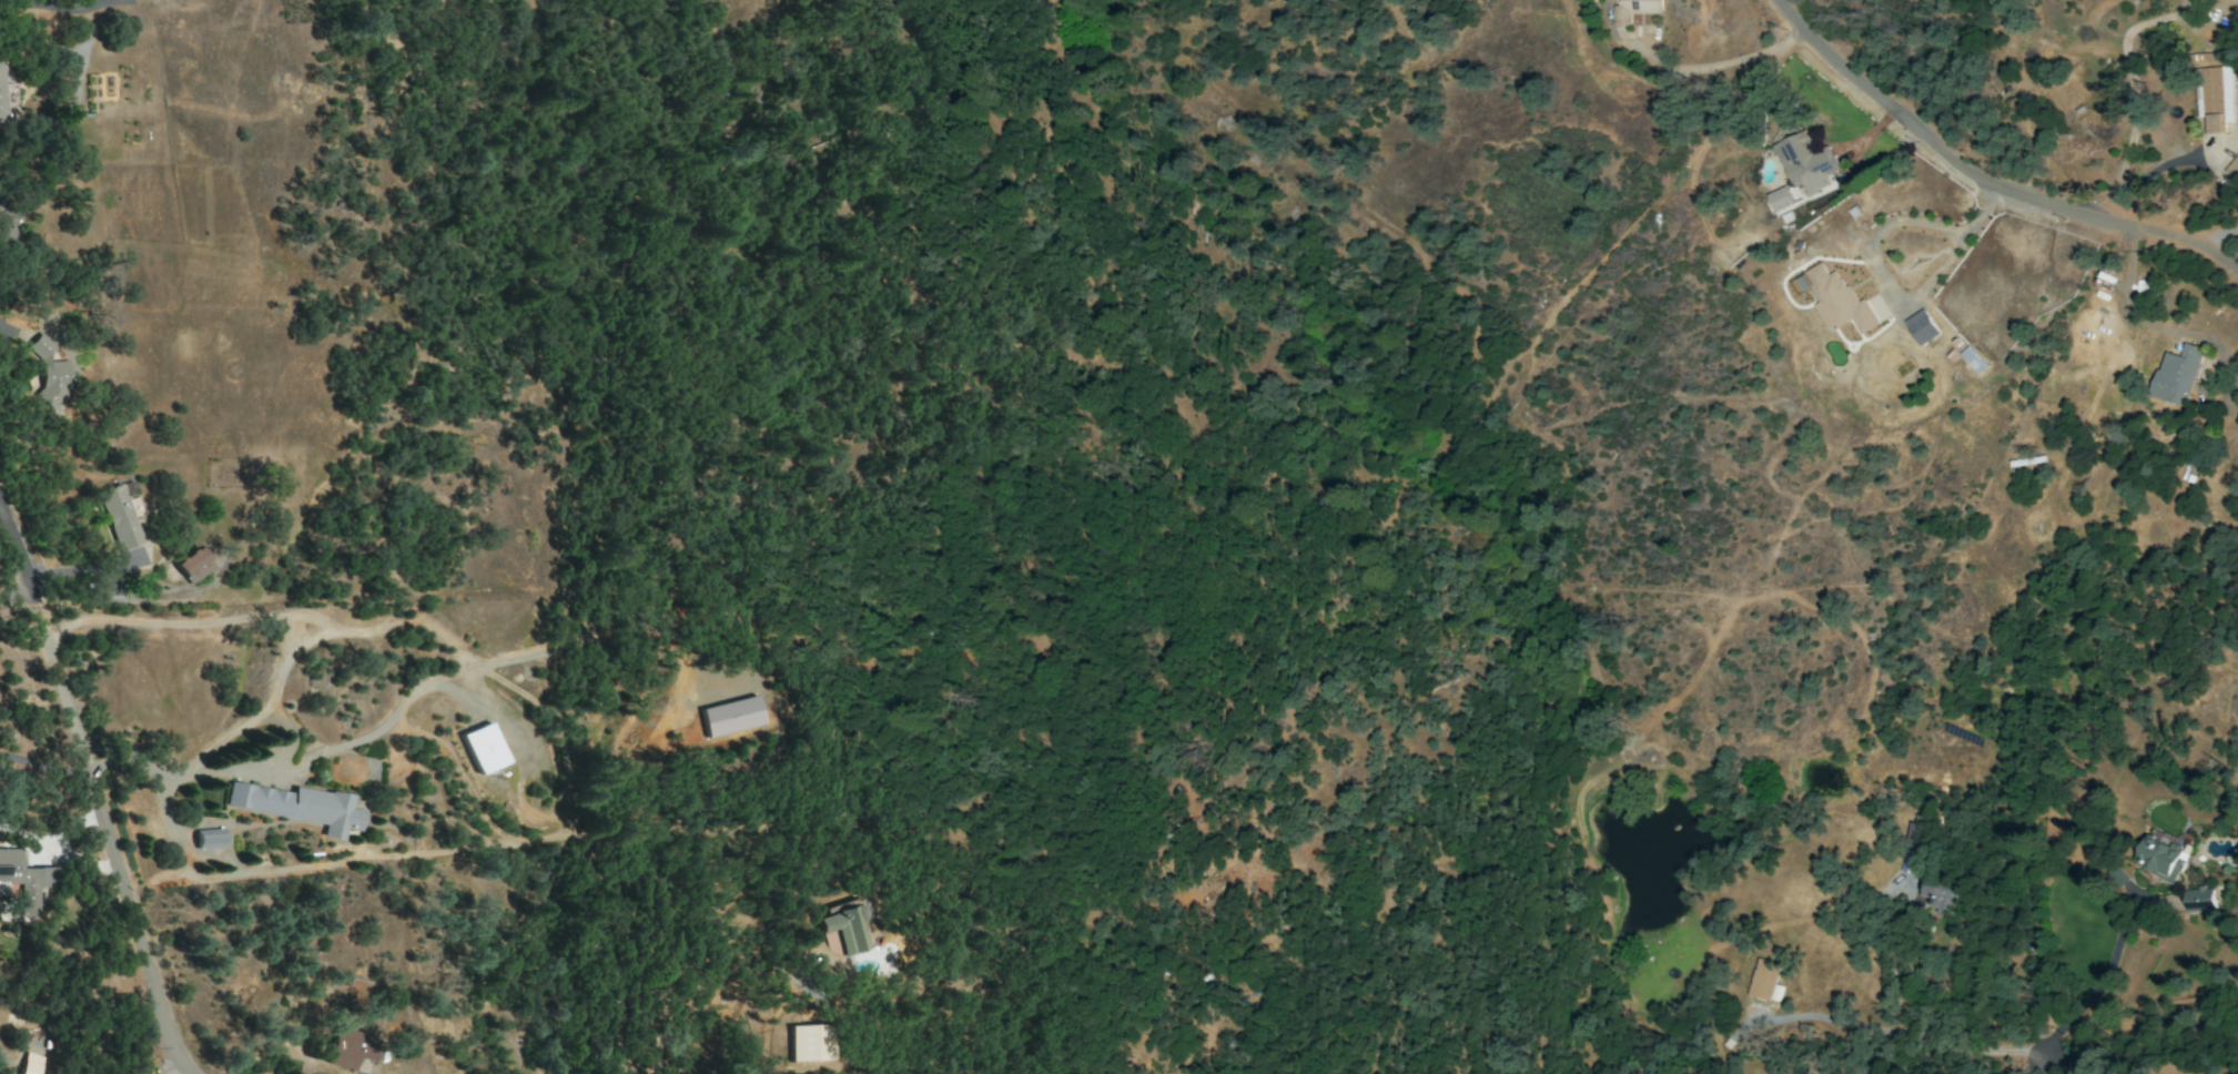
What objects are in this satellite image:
building: (1632, 10)
building: (1, 91)
building: (2214, 99)
road: (2136, 112)
building: (1806, 163)
building: (2232, 168)
road: (1979, 182)
building: (1780, 199)
building: (7, 226)
road: (2218, 233)
road: (1893, 292)
building: (1840, 301)
building: (1921, 327)
building: (1973, 359)
building: (49, 374)
building: (2177, 375)
building: (119, 517)
road: (16, 546)
building: (192, 566)
road: (306, 615)
road: (162, 622)
road: (312, 641)
building: (730, 717)
road: (288, 731)
building: (484, 748)
road: (294, 763)
road: (43, 766)
building: (297, 807)
building: (1920, 832)
road: (105, 834)
building: (207, 839)
building: (2161, 855)
building: (23, 881)
building: (1944, 894)
building: (2197, 900)
building: (844, 929)
road: (1882, 950)
building: (1762, 980)
road: (2094, 986)
road: (723, 1012)
road: (1839, 1020)
building: (810, 1043)
building: (350, 1048)
building: (29, 1064)
road: (2040, 1066)

